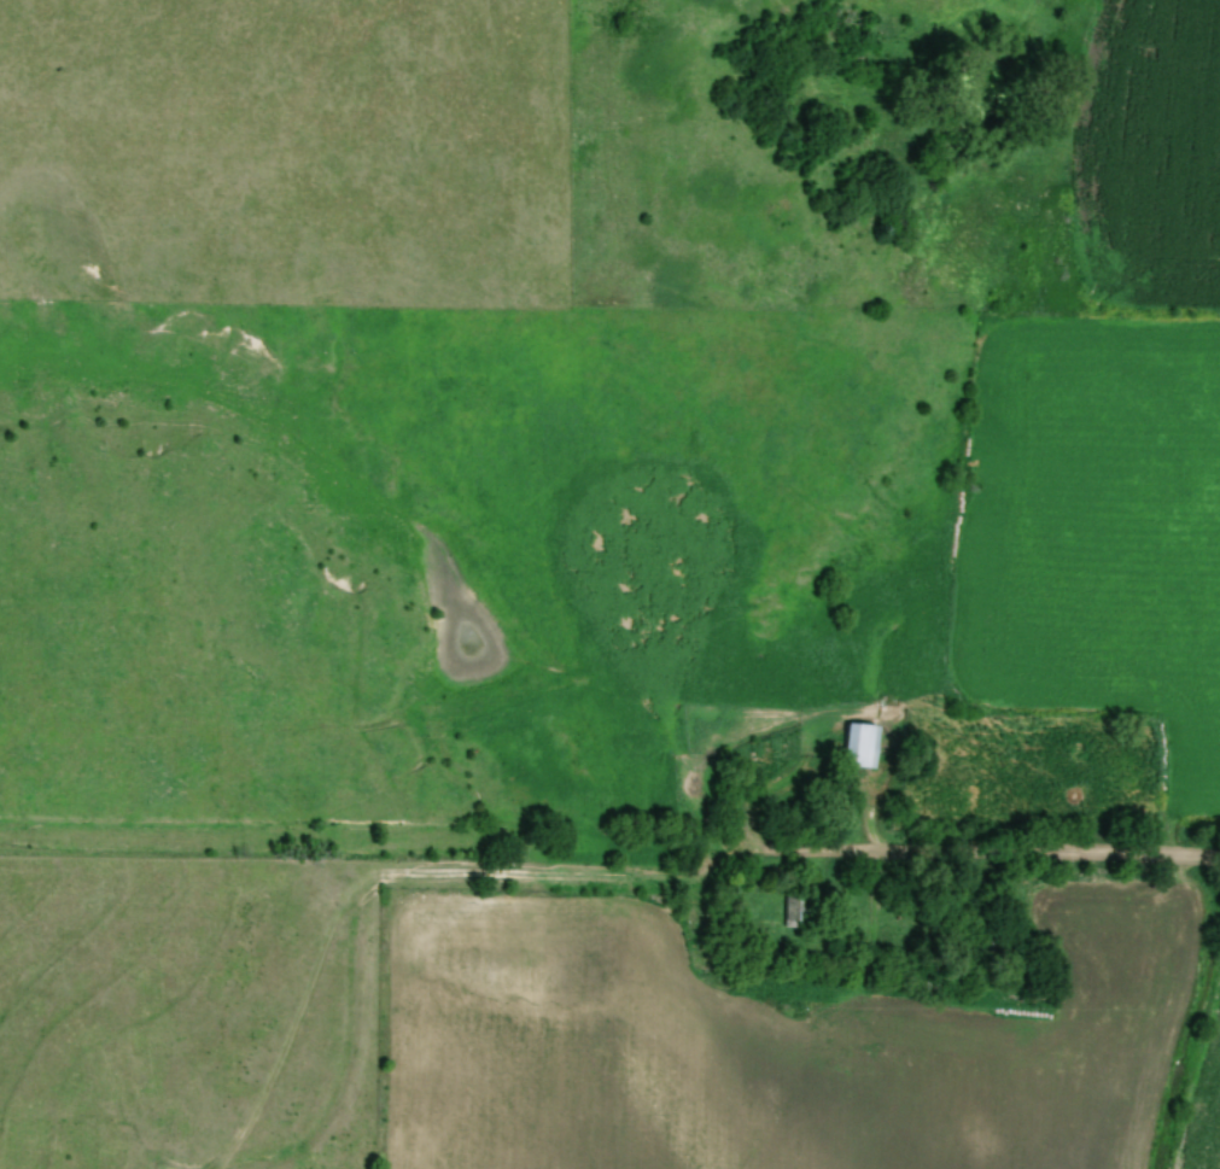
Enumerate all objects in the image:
building: (856, 747)
road: (609, 847)
building: (790, 913)

